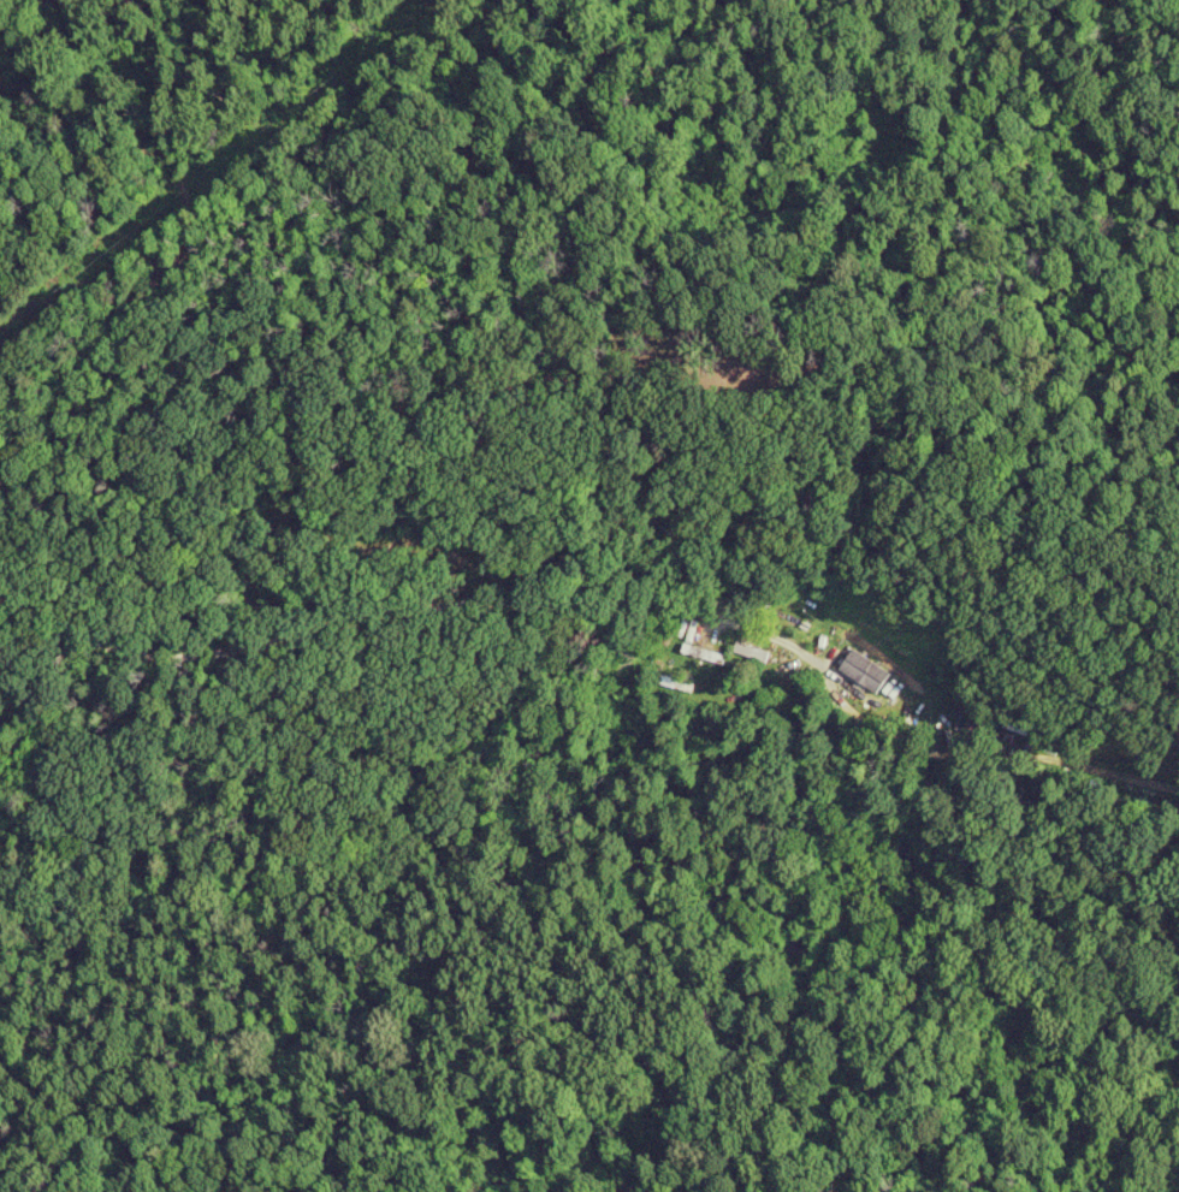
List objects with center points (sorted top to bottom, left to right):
road: (627, 600)
road: (17, 609)
building: (743, 652)
building: (698, 654)
building: (857, 664)

